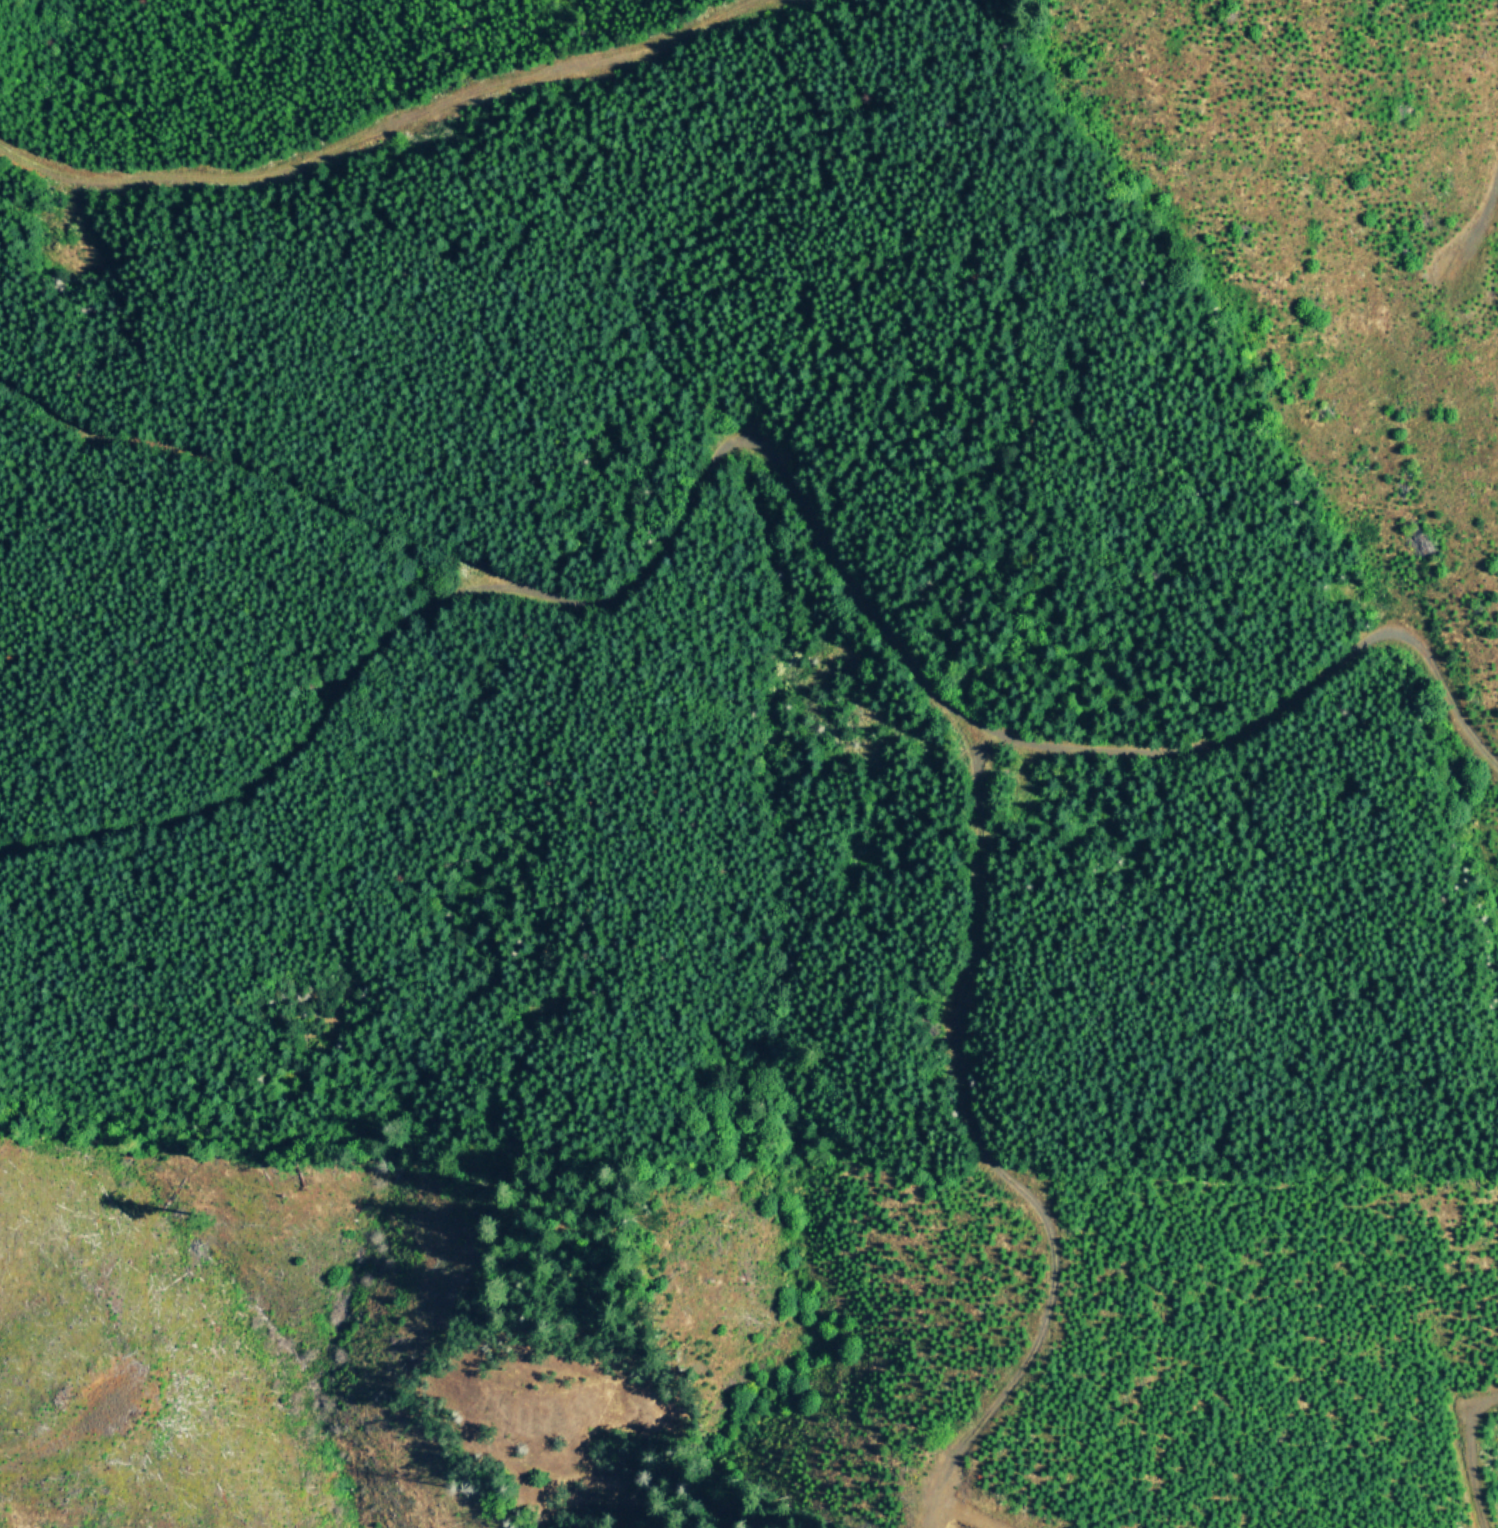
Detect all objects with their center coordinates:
road: (619, 591)
road: (1317, 675)

